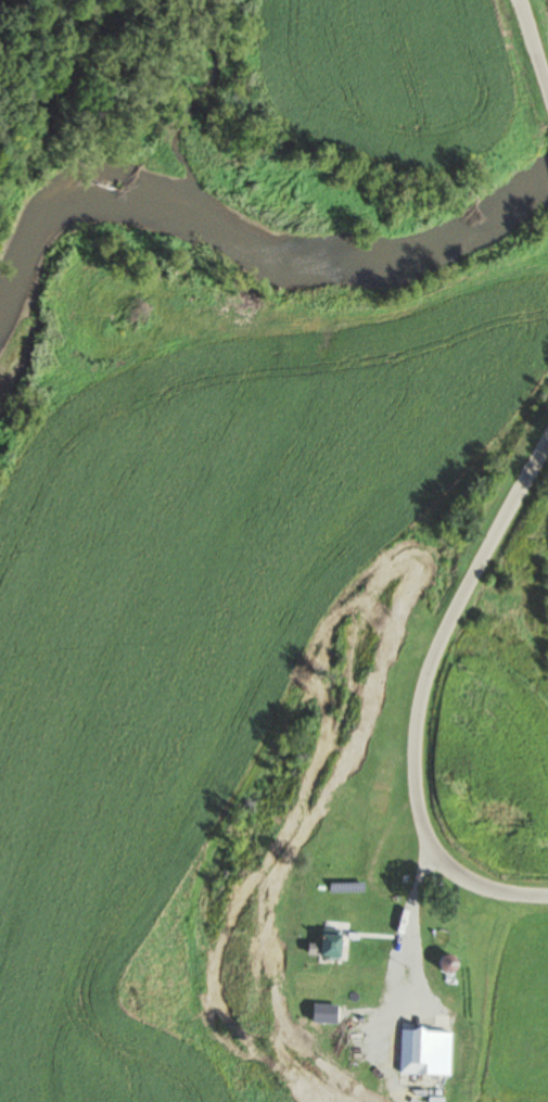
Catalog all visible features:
road: (522, 38)
river: (251, 199)
road: (390, 685)
building: (329, 945)
building: (447, 963)
building: (423, 1051)

